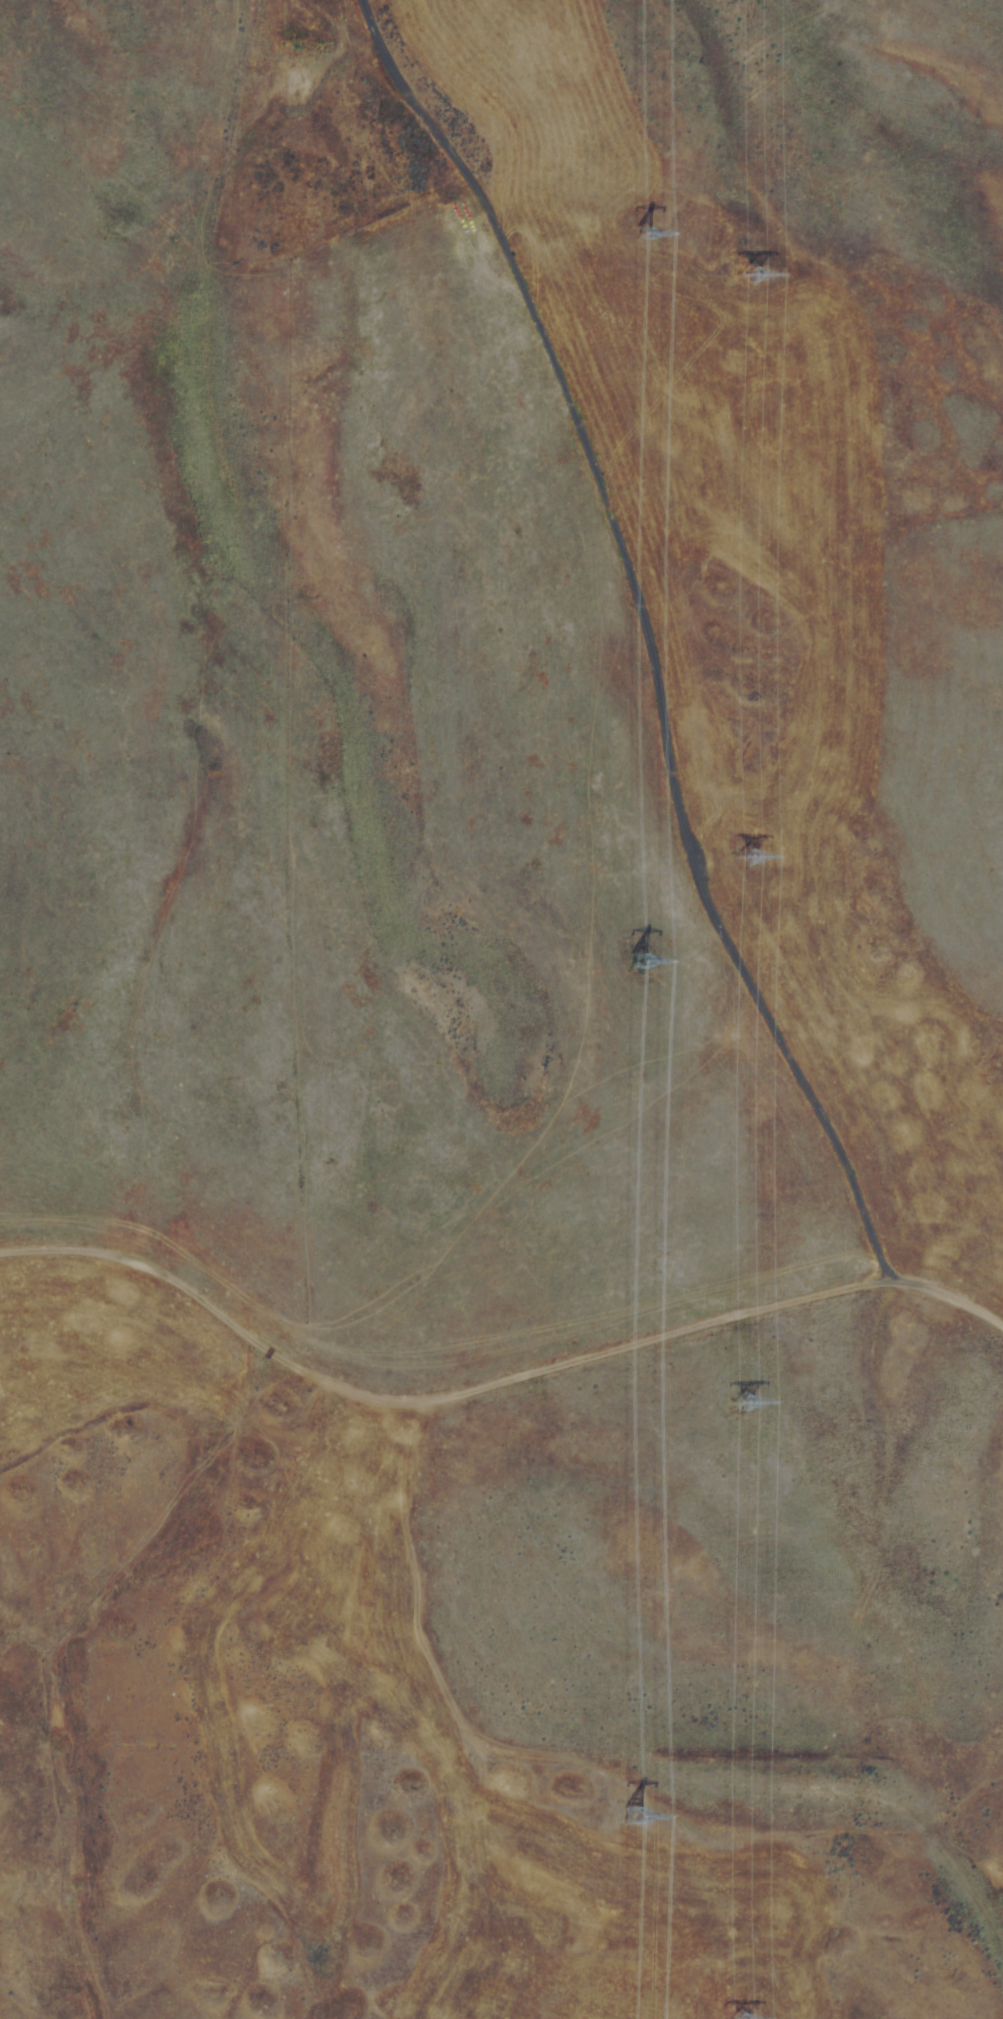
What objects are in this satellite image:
power tower: (671, 214)
power tower: (765, 280)
power tower: (757, 856)
power tower: (659, 954)
power tower: (760, 1387)
power tower: (663, 1808)

